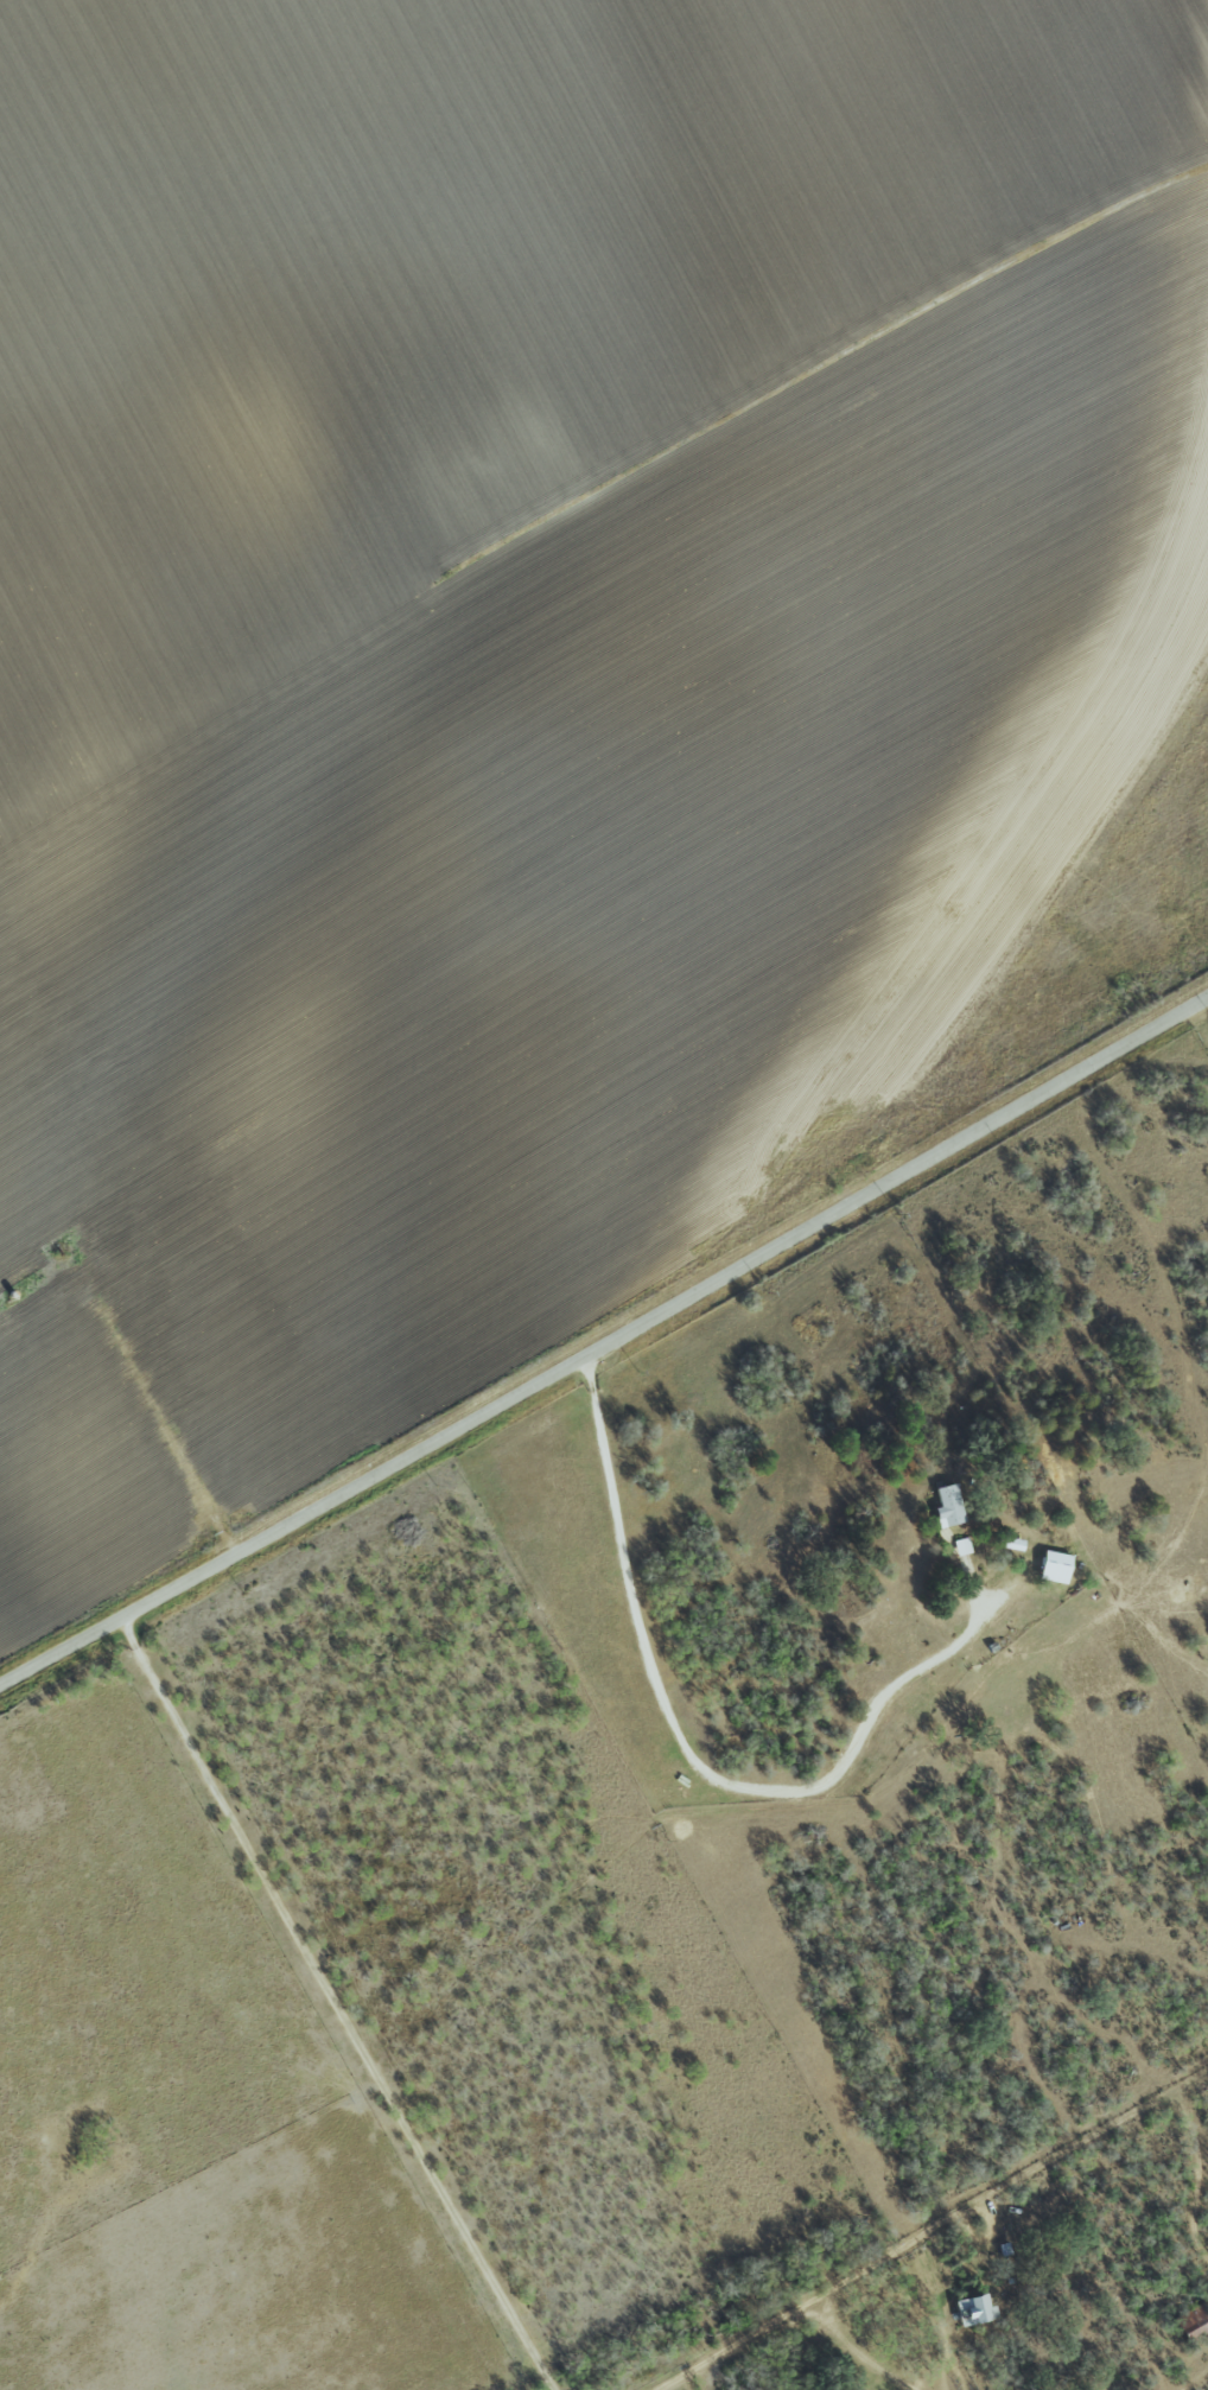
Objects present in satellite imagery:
road: (605, 1341)
building: (947, 1507)
building: (961, 1547)
building: (1054, 1568)
road: (682, 1749)
road: (332, 2003)
road: (808, 2300)
building: (974, 2309)

